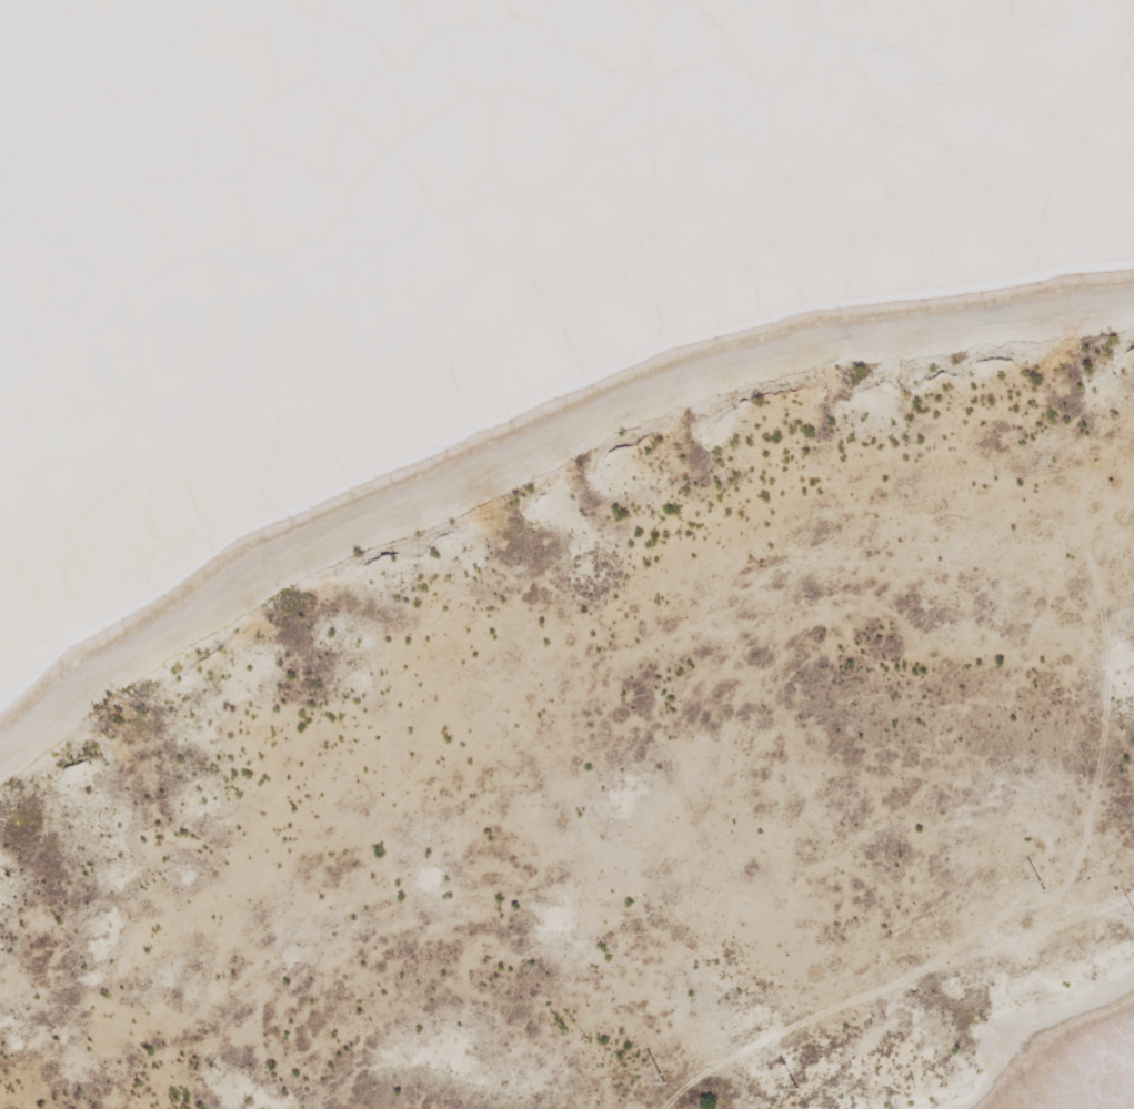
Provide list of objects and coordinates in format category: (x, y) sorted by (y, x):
power tower: (1056, 869)
power tower: (643, 1087)
power tower: (796, 1087)

